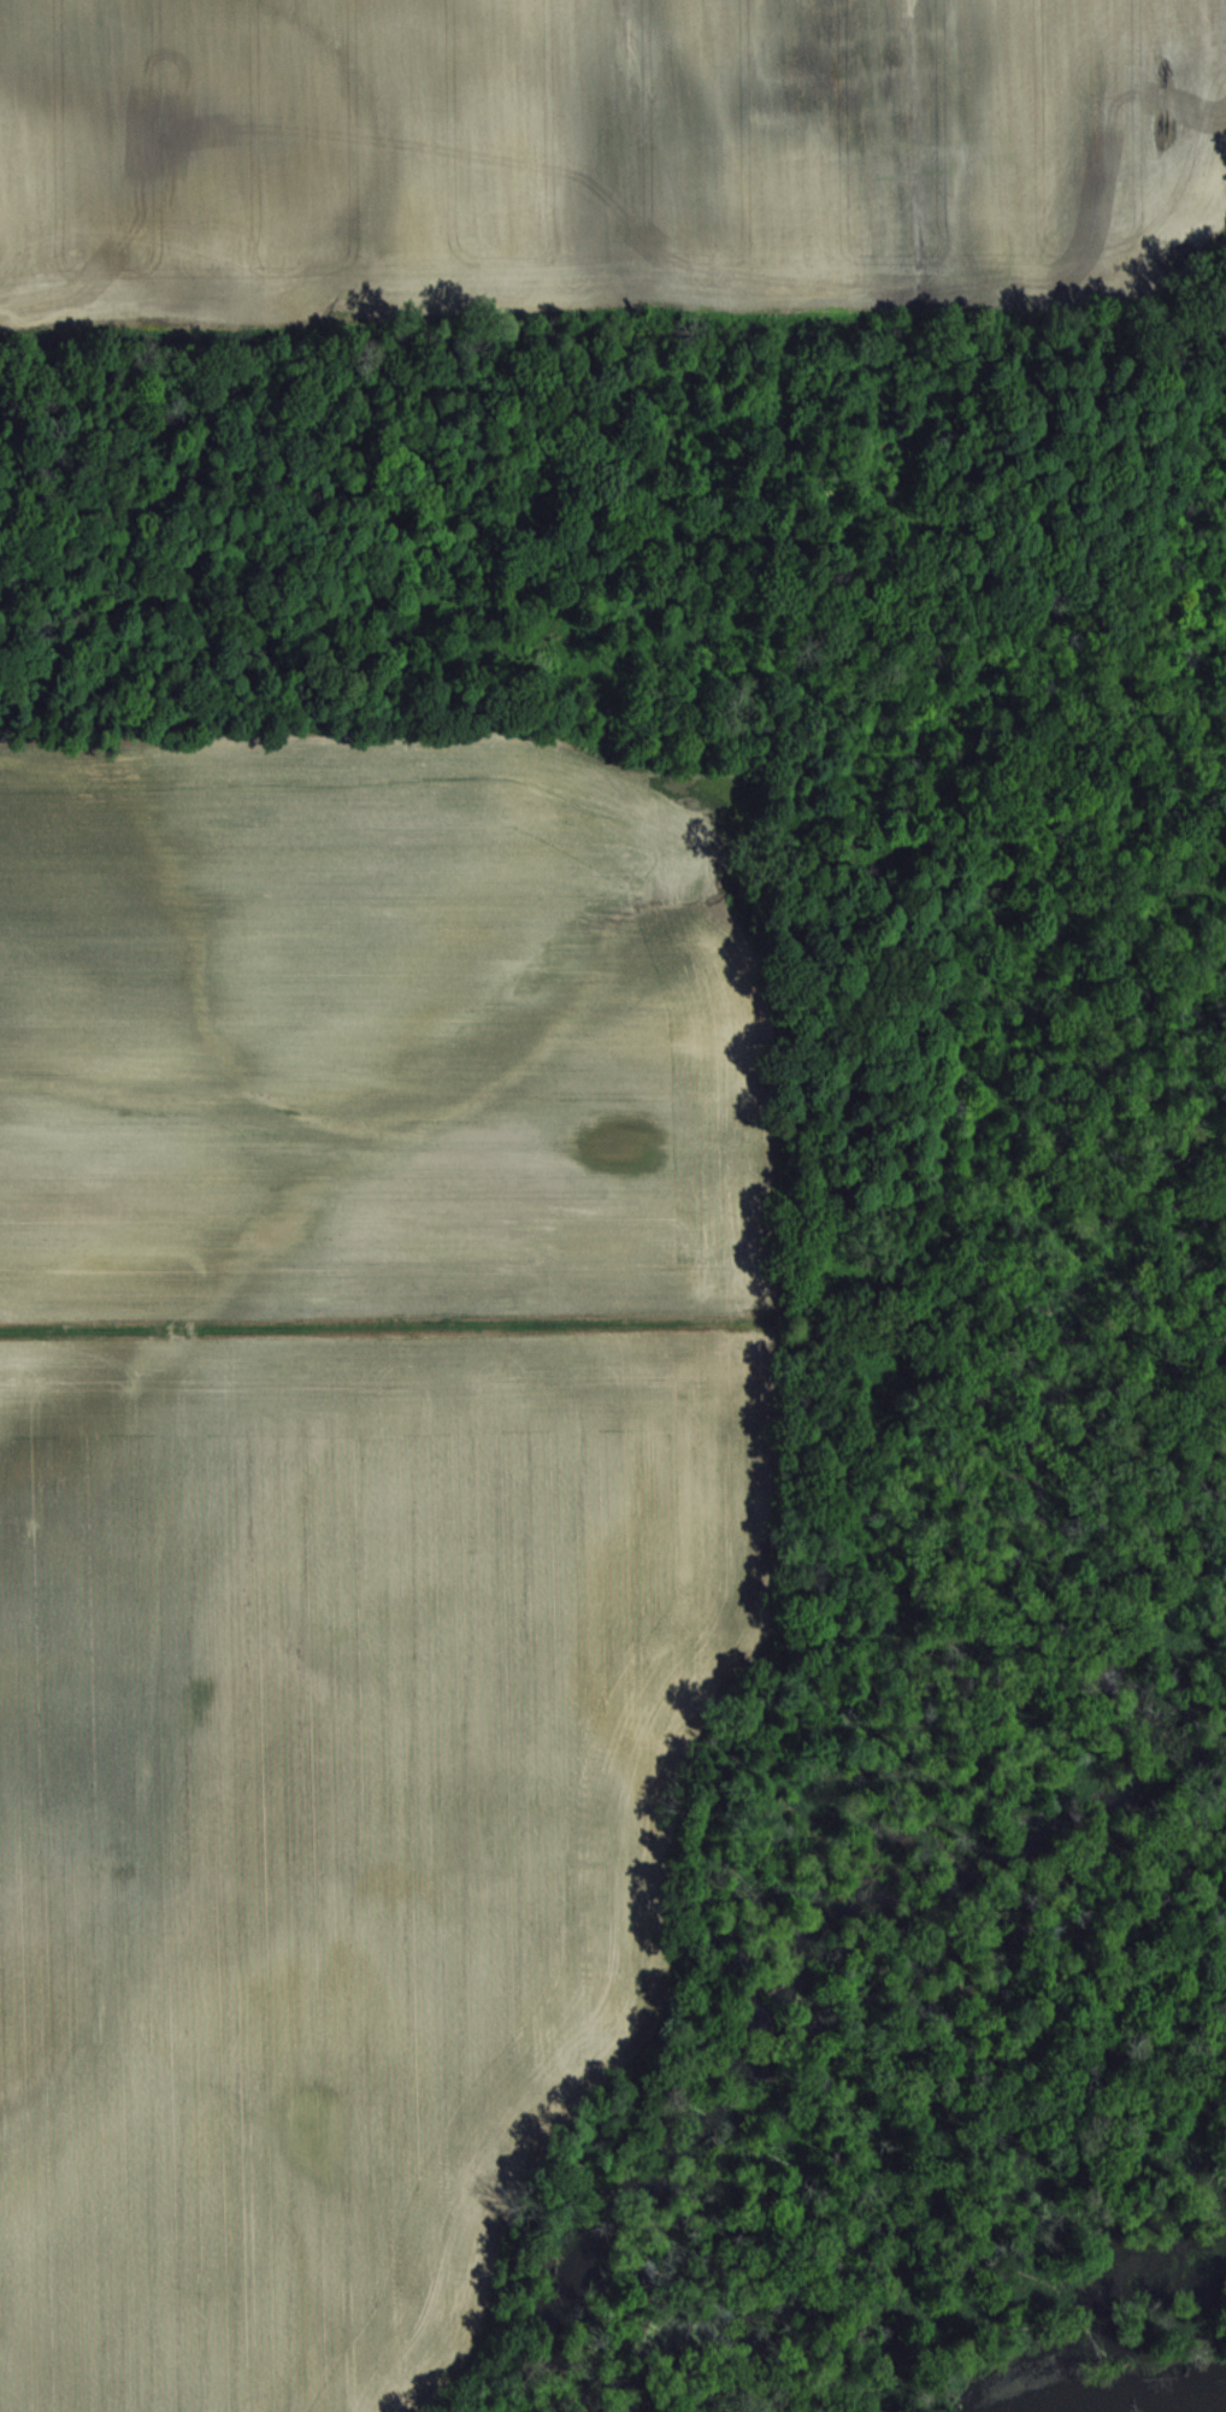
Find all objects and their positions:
river: (1189, 2402)

